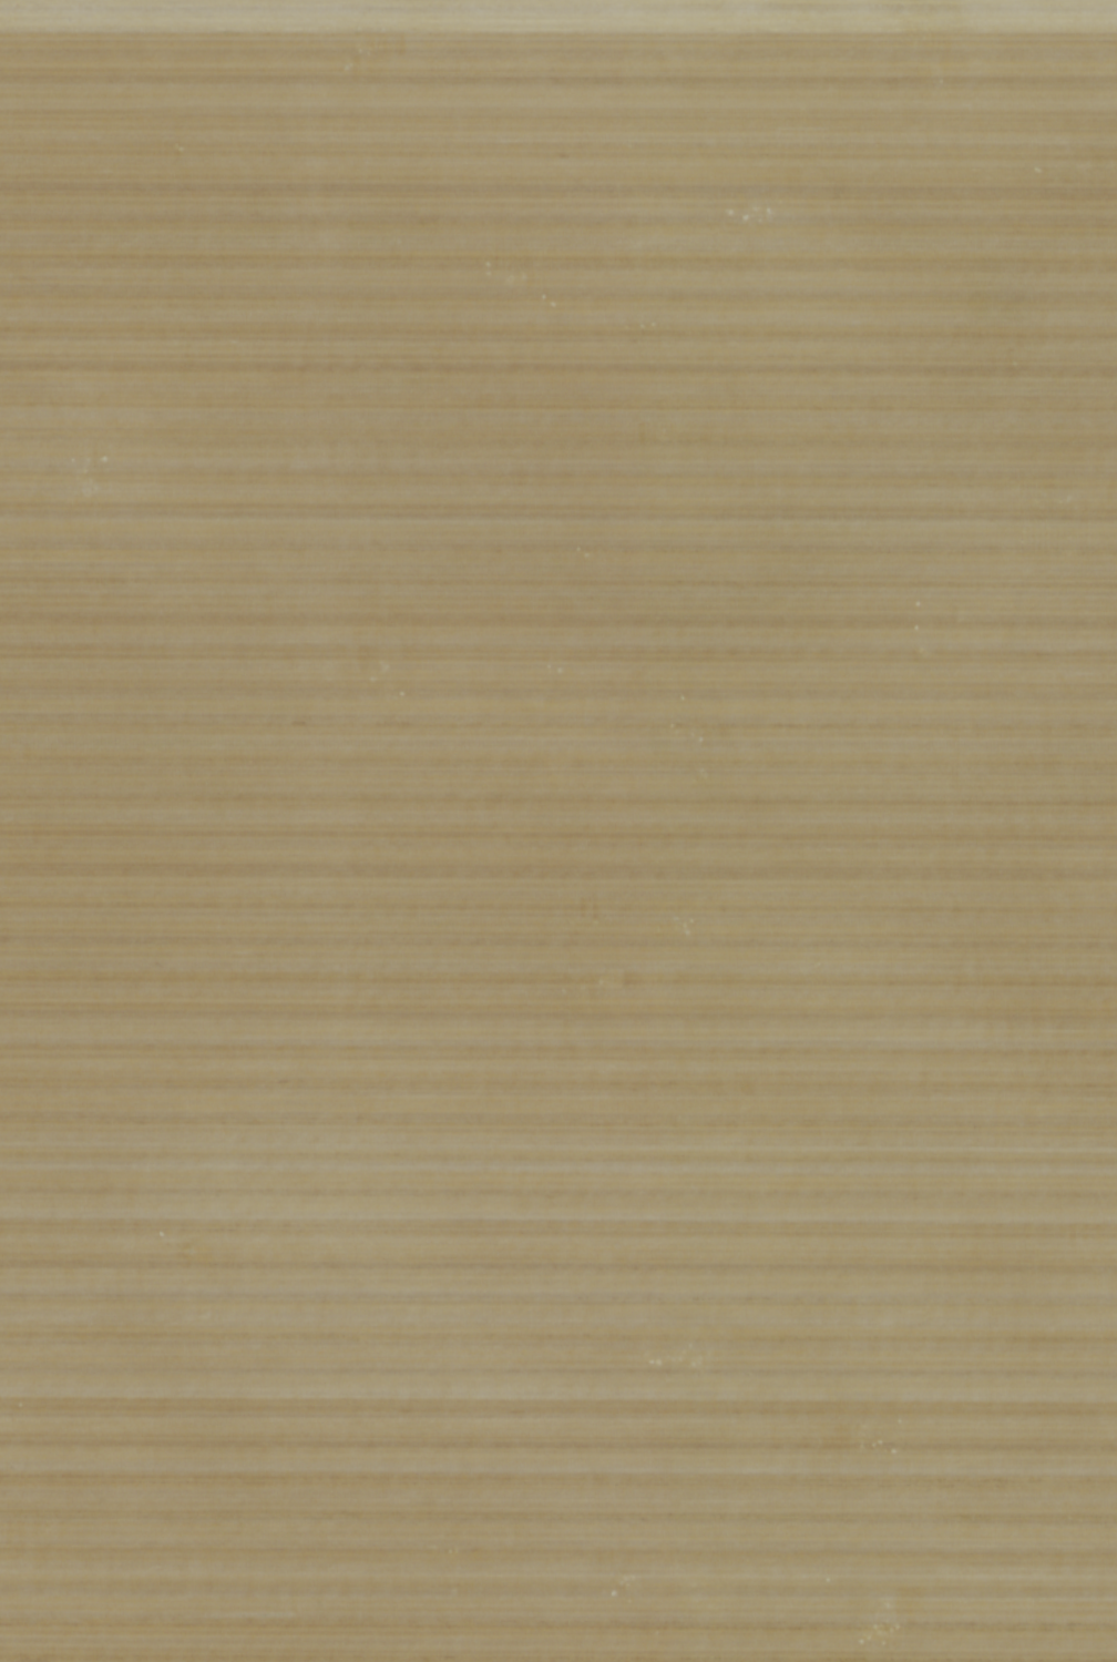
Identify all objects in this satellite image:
crop: (558, 830)

